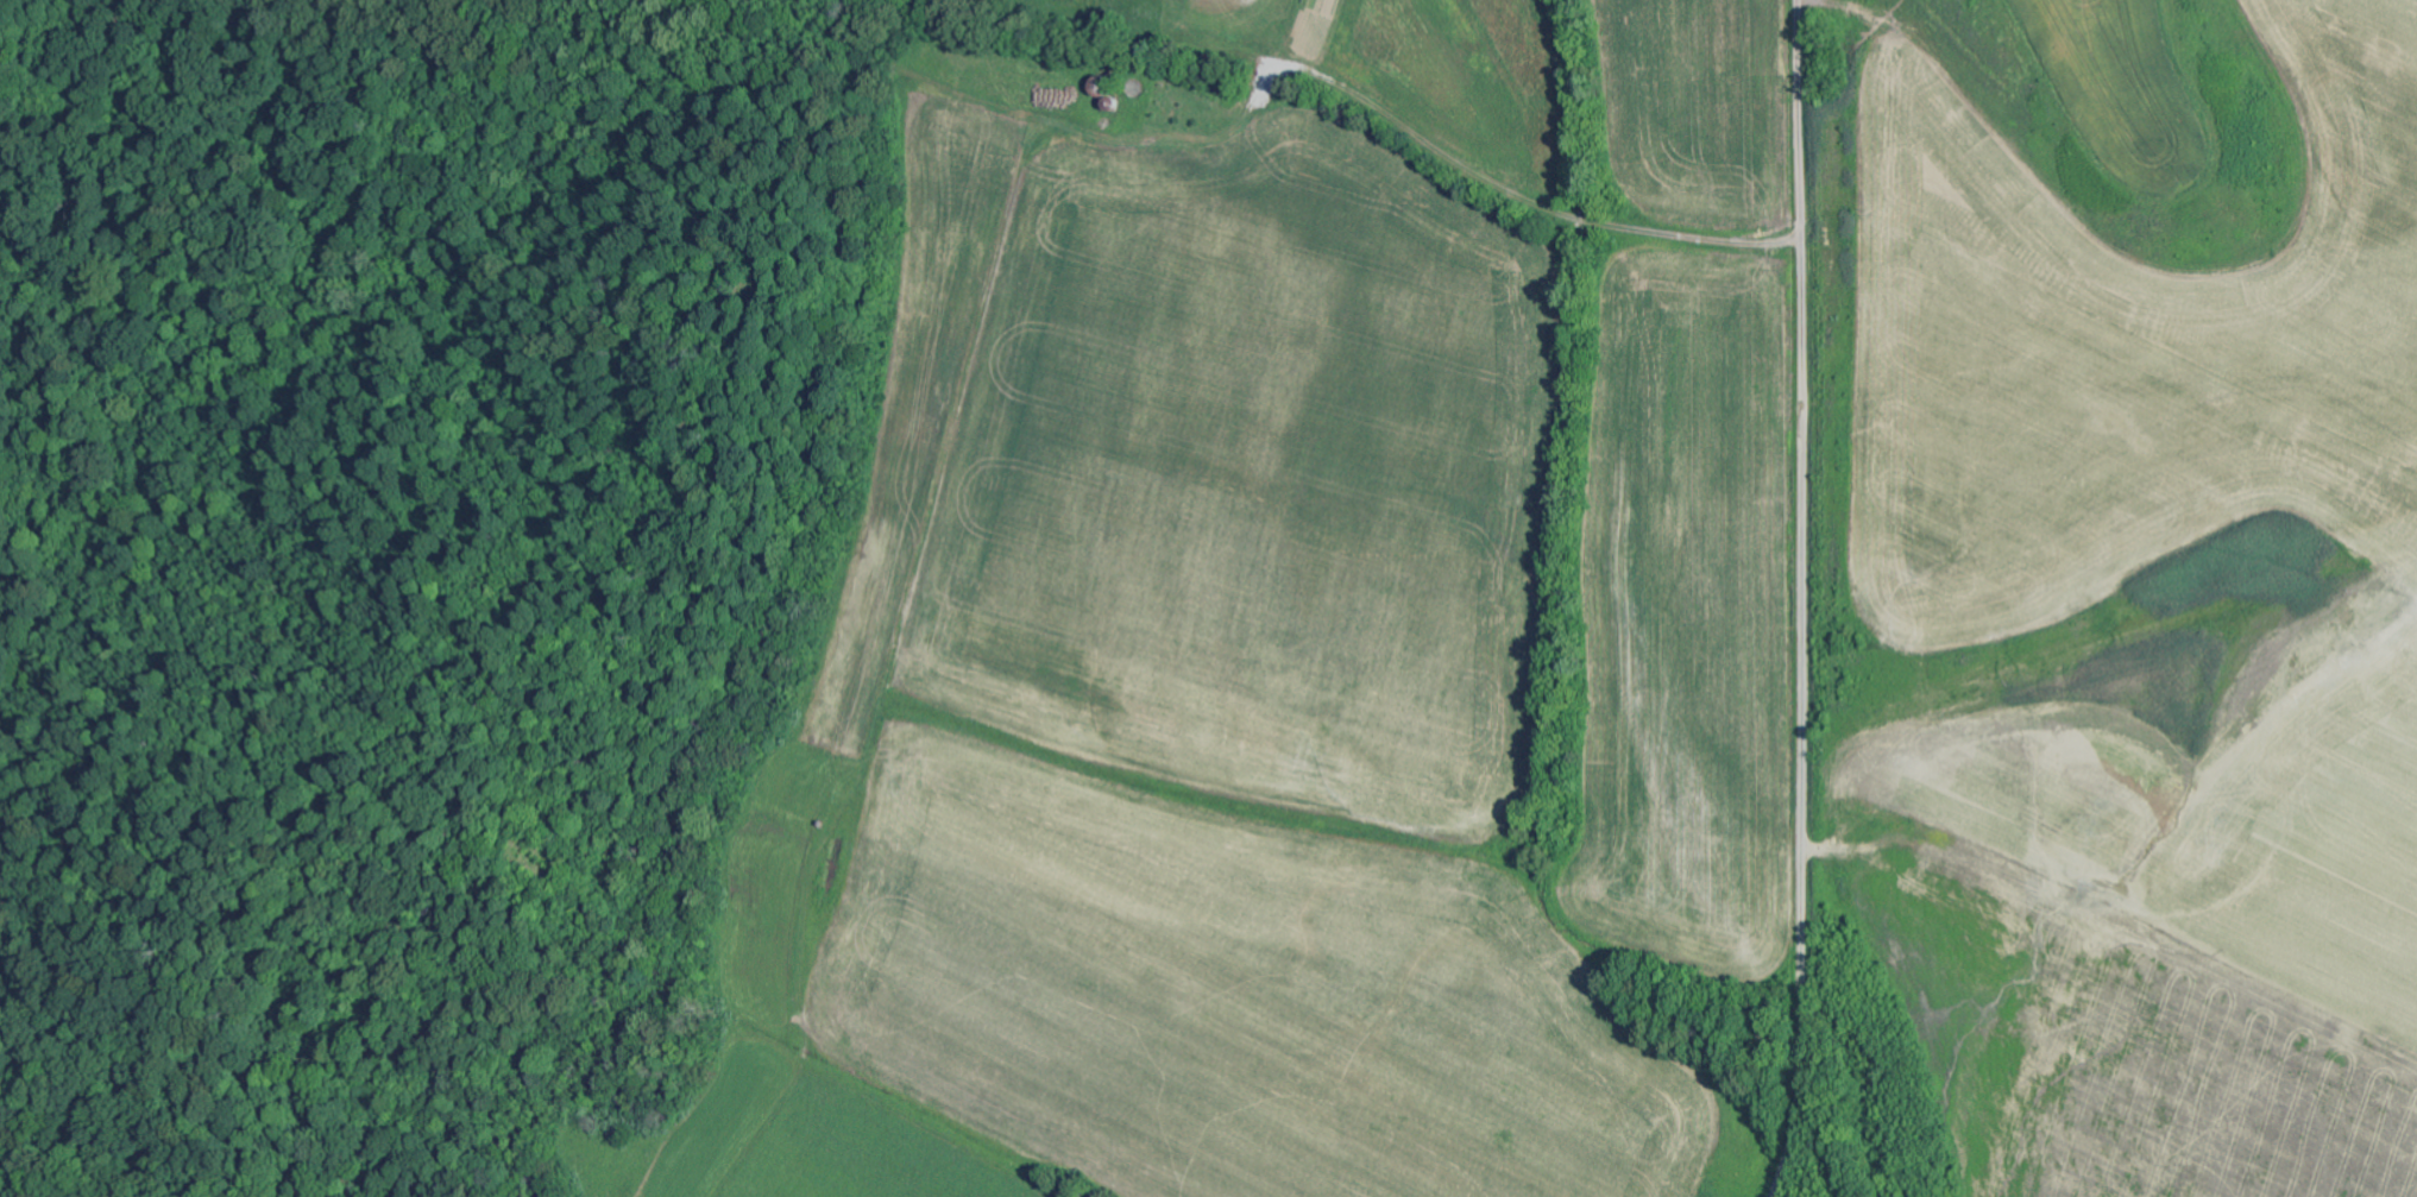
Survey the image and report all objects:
road: (1805, 600)

